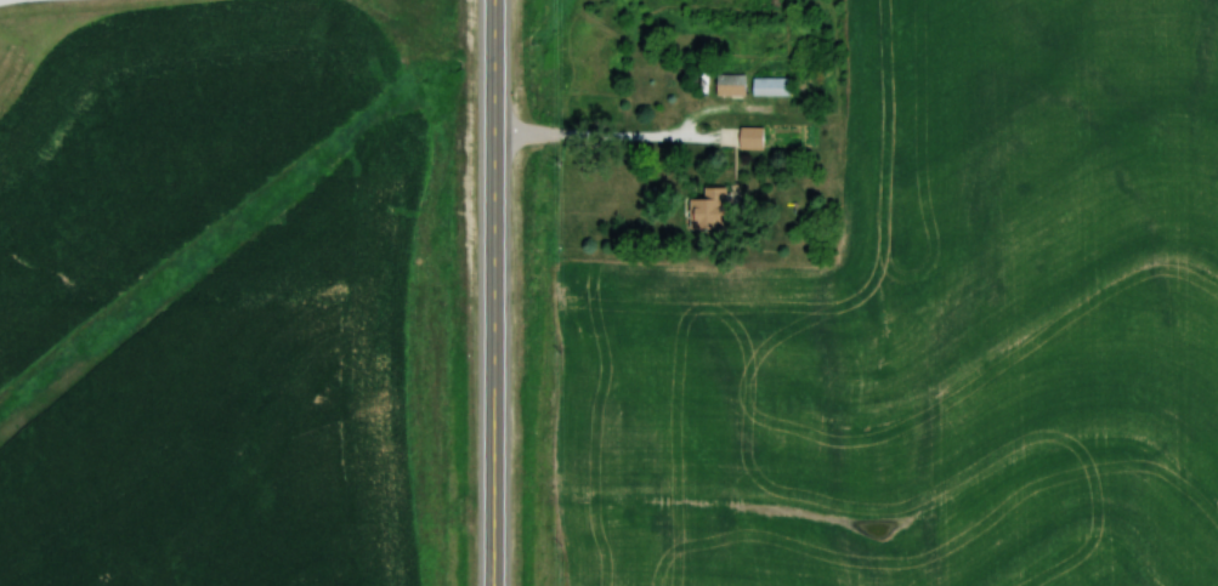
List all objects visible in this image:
building: (731, 86)
building: (771, 87)
road: (614, 137)
building: (750, 140)
building: (709, 210)
road: (493, 292)

